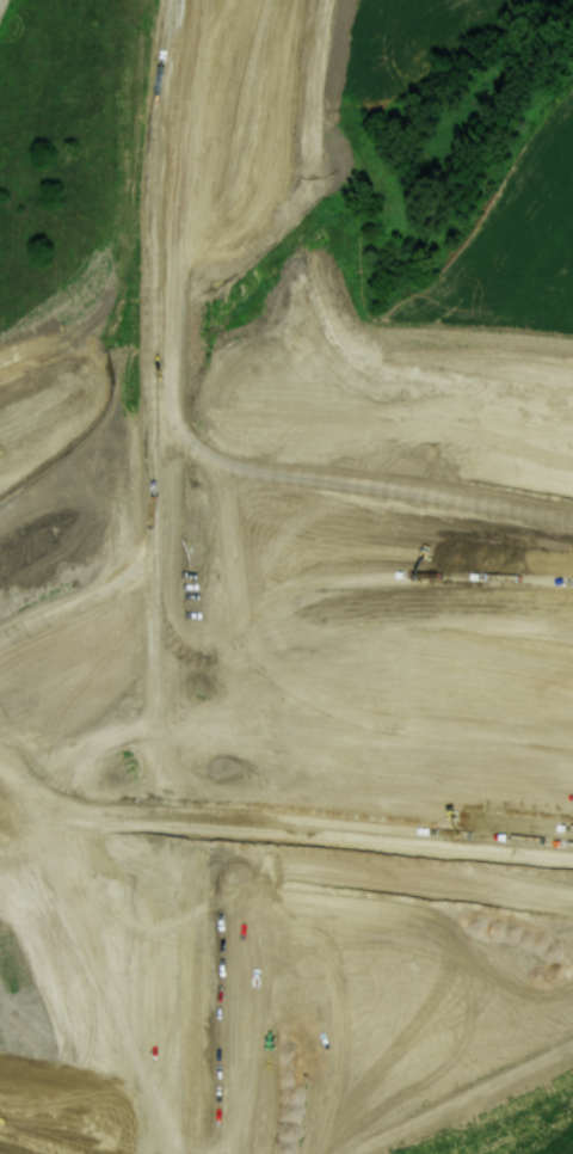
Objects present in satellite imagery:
crop: (402, 37)
road: (245, 82)
crop: (523, 241)
road: (240, 270)
road: (215, 271)
road: (195, 355)
road: (203, 652)
road: (197, 775)
road: (191, 888)
road: (189, 928)

